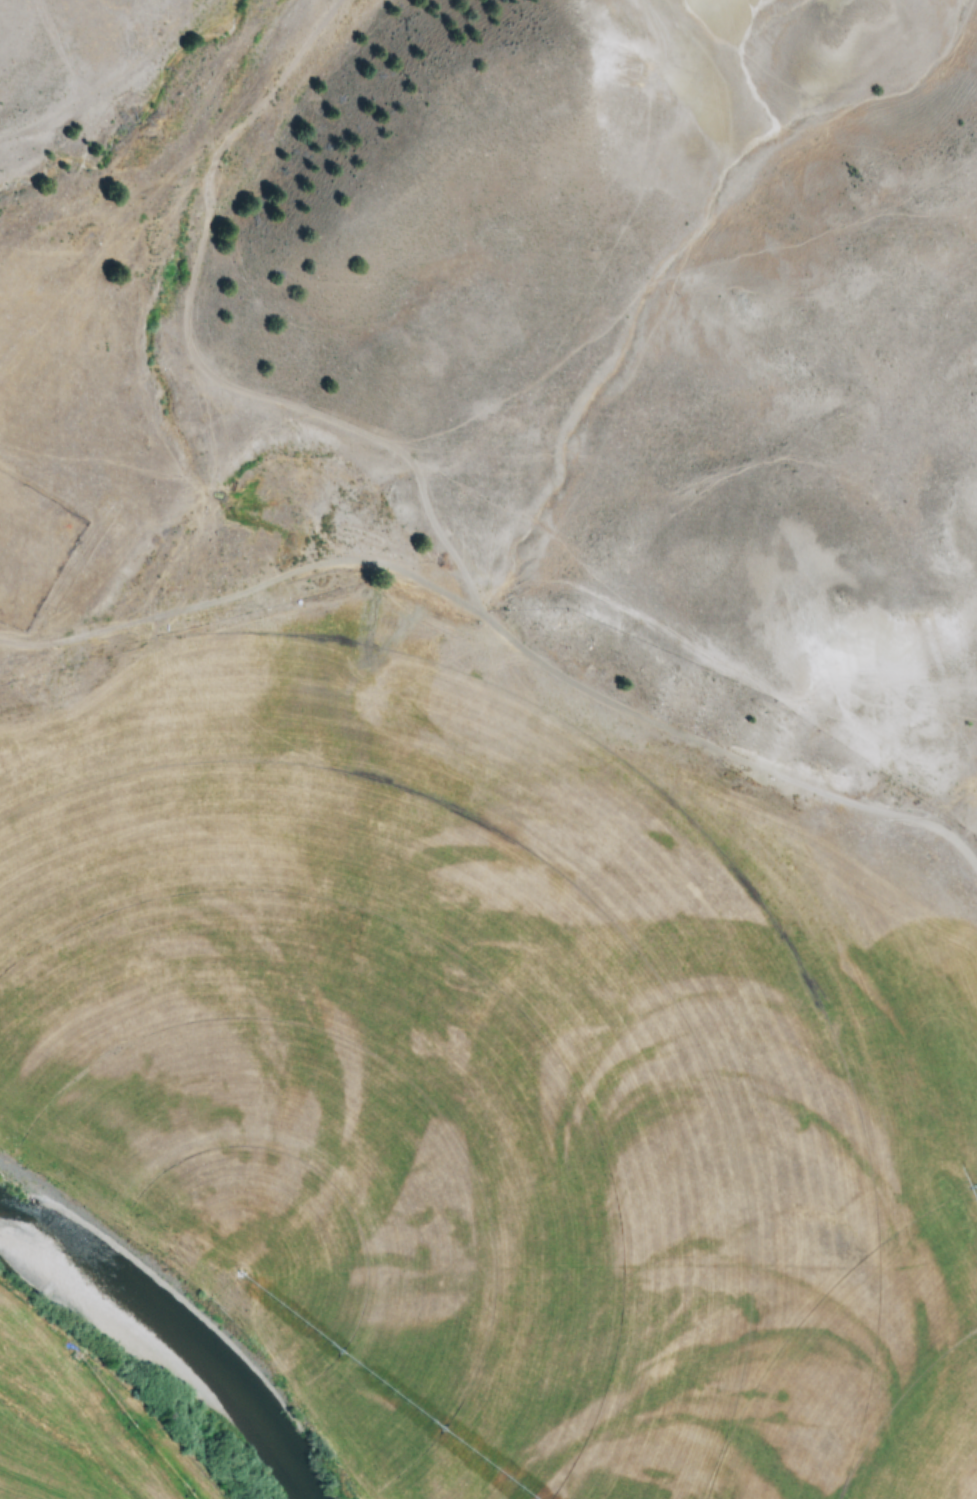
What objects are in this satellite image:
river: (168, 1338)

